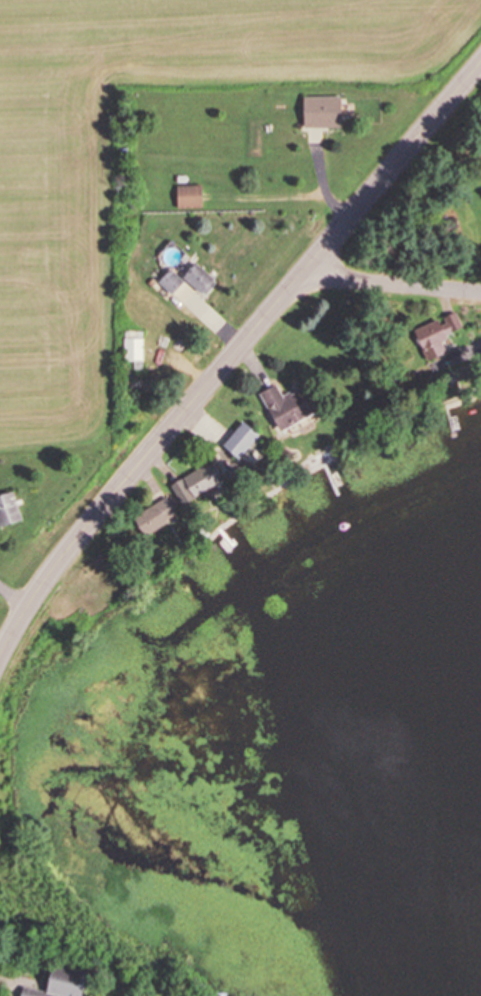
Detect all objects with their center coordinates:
building: (320, 111)
building: (187, 196)
building: (198, 279)
road: (392, 281)
building: (169, 282)
building: (433, 336)
building: (132, 349)
road: (233, 355)
road: (453, 359)
building: (282, 407)
building: (237, 441)
building: (194, 483)
building: (7, 509)
building: (152, 517)
building: (58, 982)

